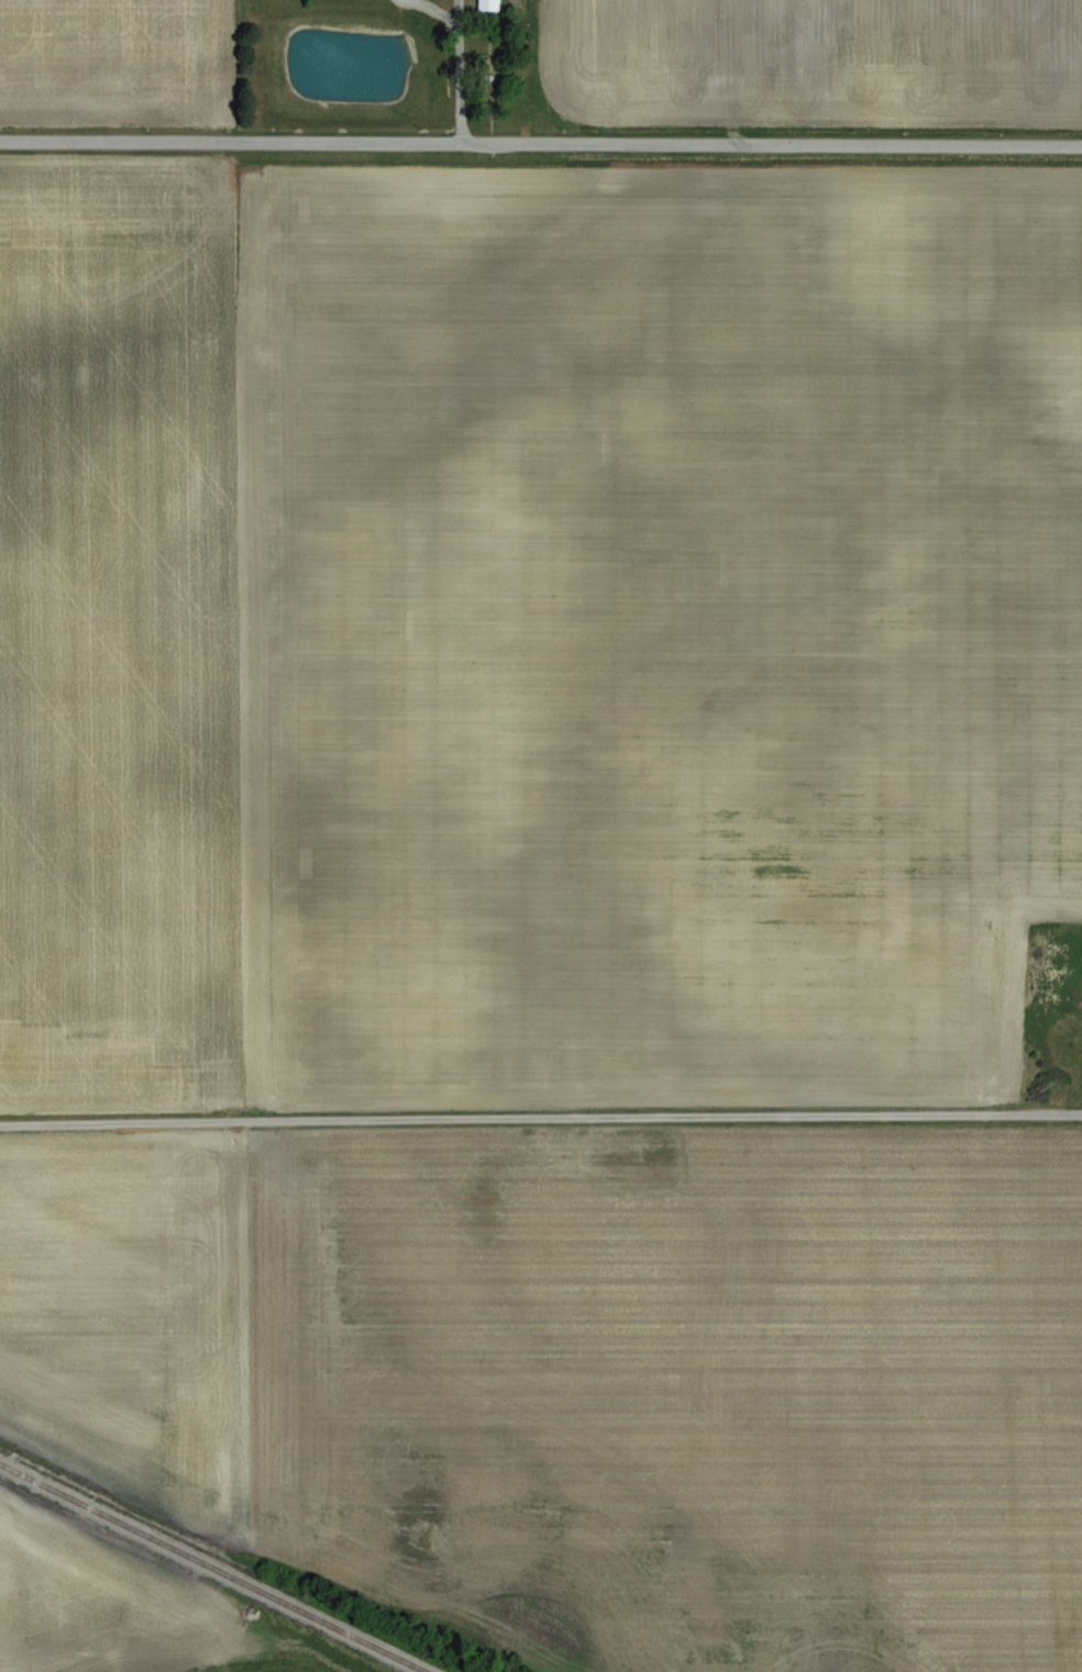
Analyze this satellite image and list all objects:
road: (433, 10)
road: (453, 70)
road: (541, 141)
road: (540, 1114)
railway: (213, 1566)

